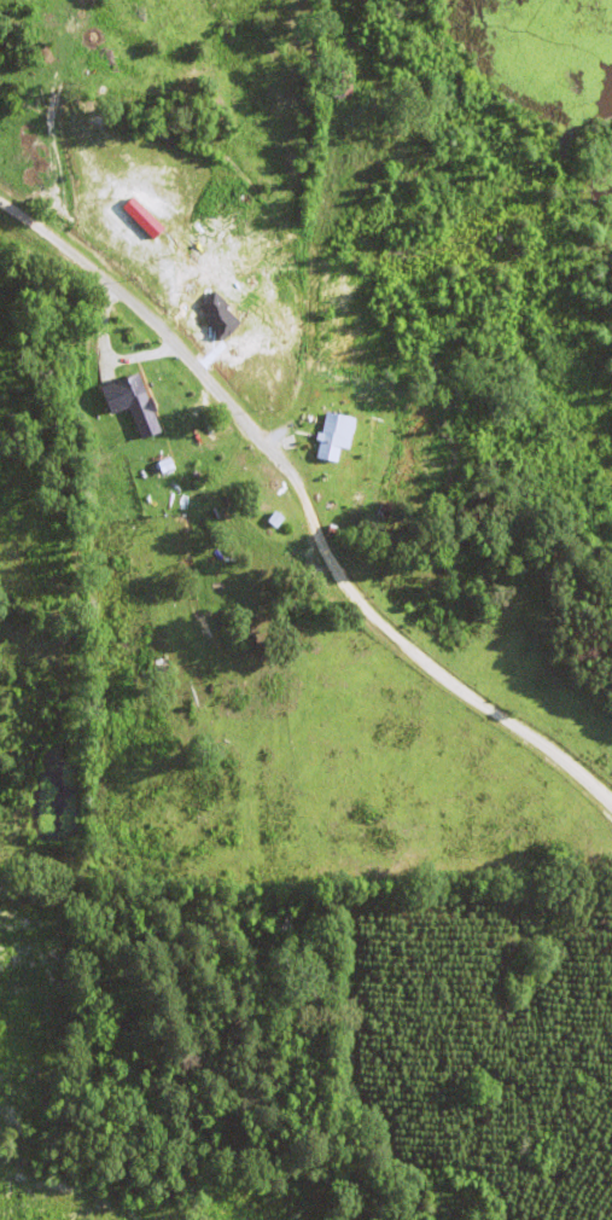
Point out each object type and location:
road: (302, 226)
road: (305, 509)
road: (499, 949)

